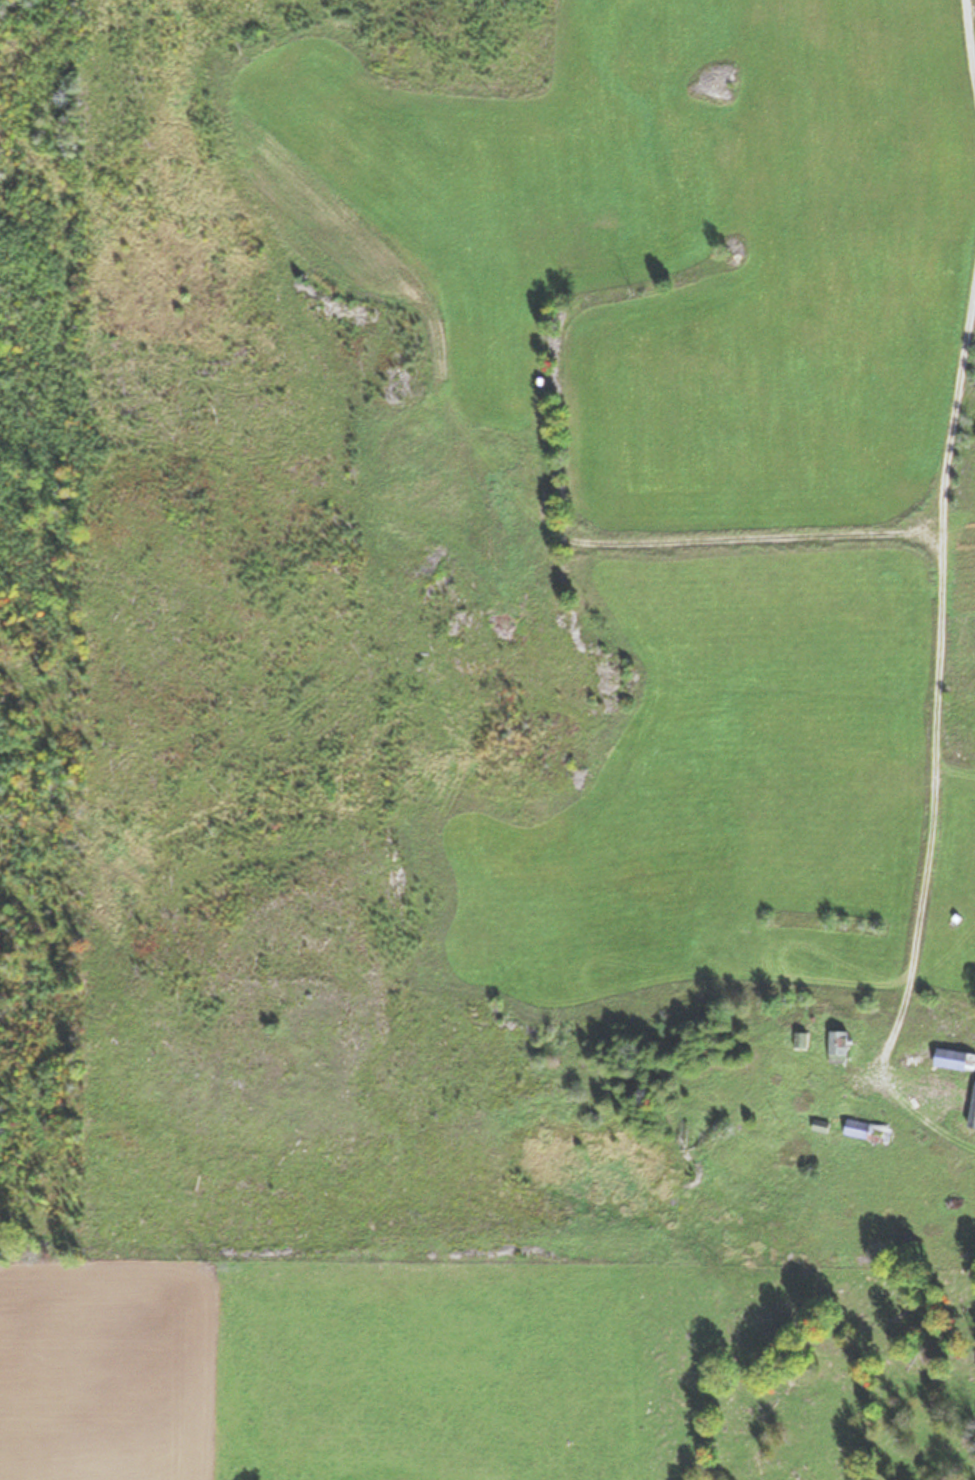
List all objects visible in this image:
road: (936, 687)
building: (842, 1047)
building: (957, 1060)
building: (974, 1125)
building: (823, 1127)
building: (869, 1132)

